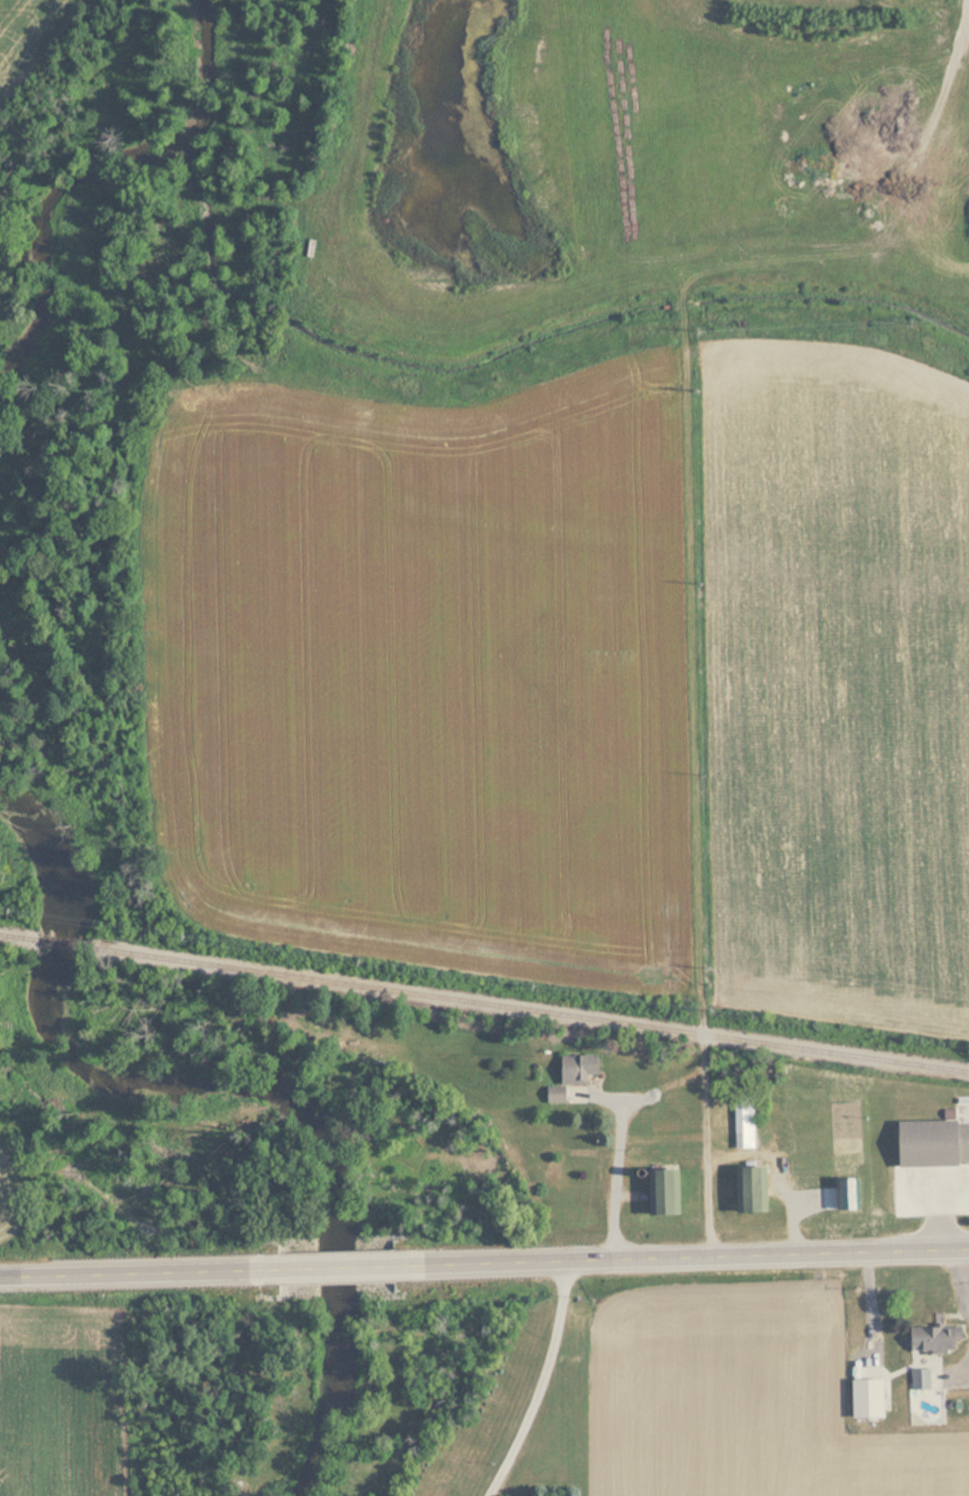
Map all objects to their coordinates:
river: (99, 168)
railway: (18, 938)
railway: (66, 945)
road: (701, 1006)
railway: (532, 1010)
road: (702, 1035)
building: (568, 1075)
river: (257, 1104)
building: (740, 1123)
building: (929, 1143)
road: (706, 1151)
road: (619, 1156)
building: (747, 1190)
building: (659, 1192)
building: (844, 1194)
building: (347, 1232)
road: (685, 1256)
road: (351, 1266)
road: (150, 1272)
building: (931, 1338)
building: (922, 1380)
road: (542, 1382)
building: (864, 1390)

